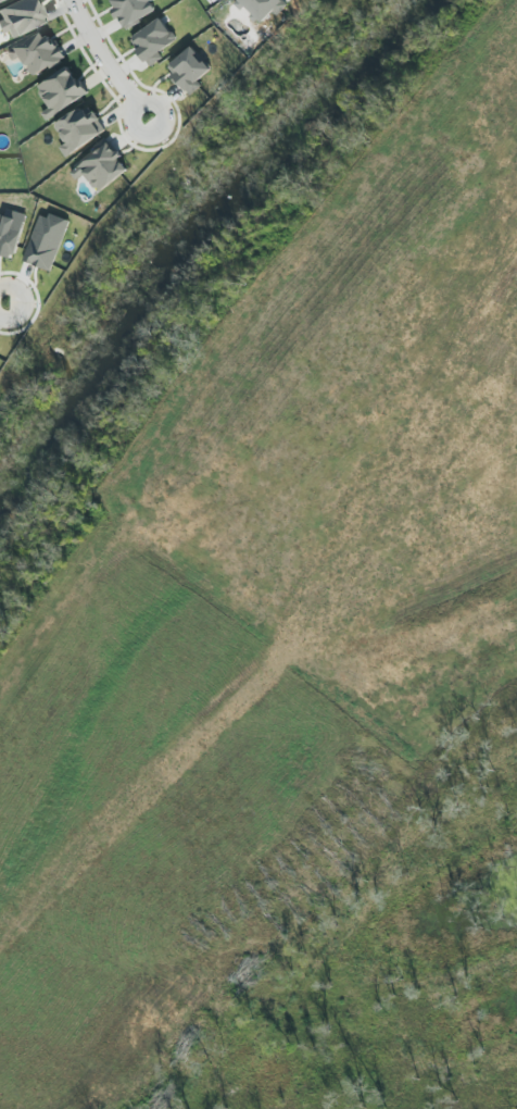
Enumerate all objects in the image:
building: (0, 0)
building: (263, 8)
building: (131, 10)
building: (153, 40)
building: (35, 53)
road: (102, 55)
building: (188, 70)
building: (59, 91)
building: (77, 129)
building: (101, 167)
building: (43, 241)
river: (199, 257)
road: (2, 294)

